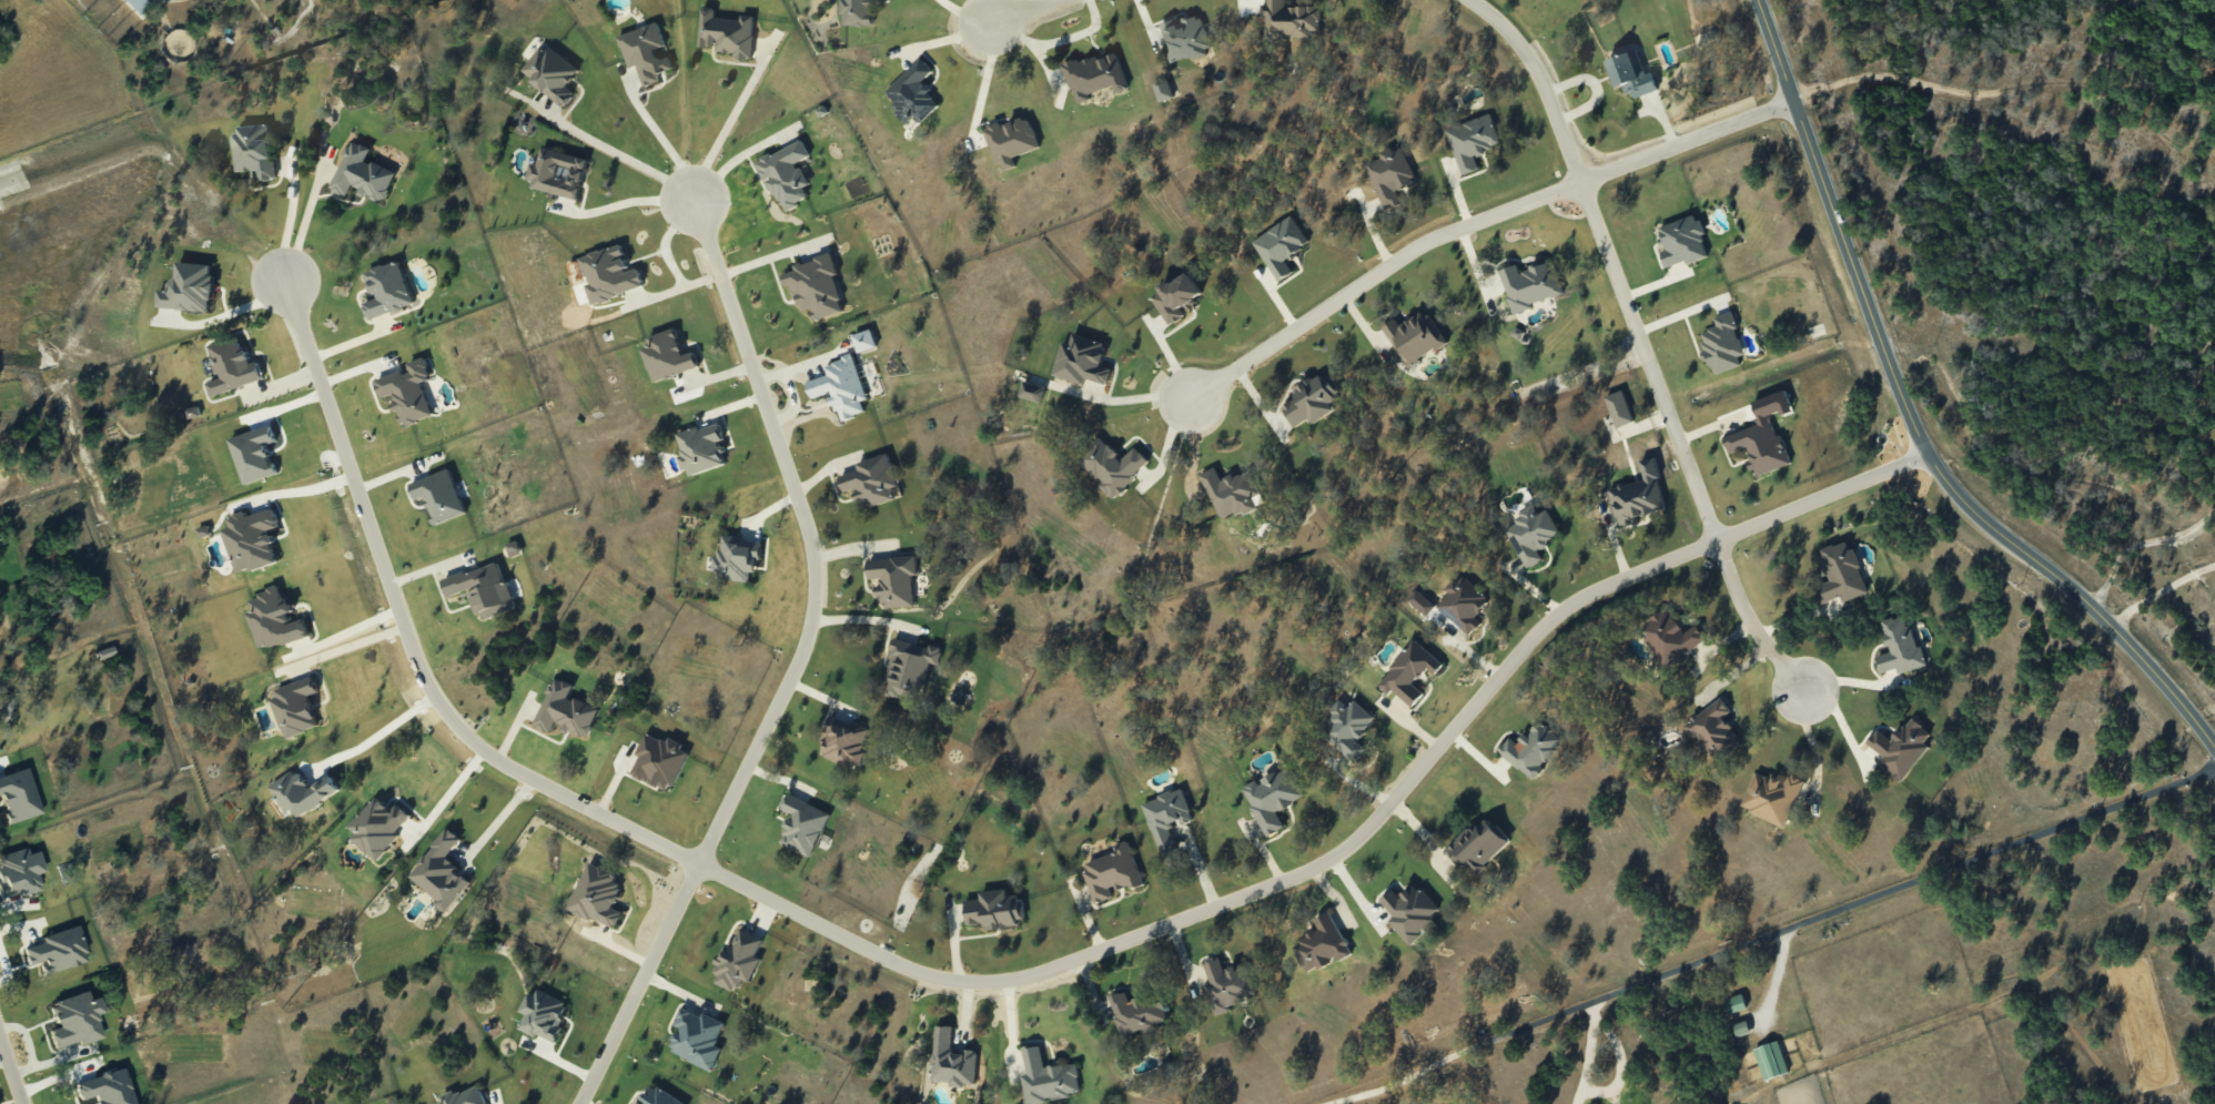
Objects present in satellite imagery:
building: (136, 4)
road: (970, 9)
road: (1022, 9)
building: (857, 12)
building: (1288, 20)
building: (726, 32)
building: (1184, 37)
building: (645, 52)
building: (550, 73)
building: (1630, 73)
building: (1093, 75)
road: (983, 78)
building: (1162, 90)
building: (912, 93)
road: (730, 121)
road: (660, 141)
building: (1010, 141)
building: (1471, 141)
building: (254, 149)
road: (629, 152)
building: (557, 173)
building: (363, 174)
building: (786, 174)
building: (1388, 175)
road: (305, 217)
road: (1479, 219)
road: (286, 220)
road: (666, 239)
building: (1682, 241)
building: (1280, 245)
building: (609, 274)
building: (1530, 284)
road: (678, 285)
building: (816, 286)
building: (189, 287)
building: (386, 290)
building: (1176, 296)
road: (232, 310)
building: (1414, 336)
building: (863, 340)
road: (1641, 343)
building: (1721, 344)
building: (667, 355)
building: (1081, 359)
building: (232, 366)
building: (840, 386)
building: (407, 391)
building: (1031, 391)
building: (1311, 399)
building: (1618, 408)
road: (1912, 422)
building: (1762, 435)
building: (700, 448)
building: (1112, 465)
building: (871, 480)
road: (304, 489)
building: (1230, 492)
building: (438, 495)
building: (1636, 499)
building: (1530, 534)
building: (251, 539)
road: (2140, 543)
building: (513, 548)
building: (736, 558)
building: (1840, 574)
building: (893, 579)
building: (483, 589)
road: (2158, 590)
building: (1462, 604)
building: (274, 619)
road: (344, 631)
building: (1669, 637)
road: (345, 646)
building: (1899, 647)
building: (909, 667)
road: (792, 669)
building: (1408, 672)
building: (295, 706)
building: (565, 709)
building: (1347, 726)
building: (1712, 730)
road: (380, 732)
building: (844, 742)
building: (1900, 748)
building: (1530, 749)
road: (1812, 754)
building: (658, 760)
road: (448, 791)
building: (301, 792)
building: (1771, 797)
building: (1272, 798)
building: (1166, 816)
road: (498, 818)
building: (802, 824)
building: (377, 826)
road: (1424, 835)
building: (1477, 845)
building: (19, 871)
building: (441, 871)
building: (1112, 872)
building: (597, 895)
building: (994, 910)
building: (1409, 911)
road: (1769, 933)
building: (1322, 943)
building: (739, 960)
road: (1002, 983)
building: (1227, 984)
building: (1733, 1003)
building: (1136, 1013)
building: (543, 1014)
building: (75, 1019)
road: (1010, 1026)
building: (1741, 1027)
building: (697, 1037)
building: (951, 1060)
building: (1770, 1060)
road: (10, 1071)
building: (1046, 1077)
road: (1604, 1090)
building: (464, 1096)
building: (658, 1097)

